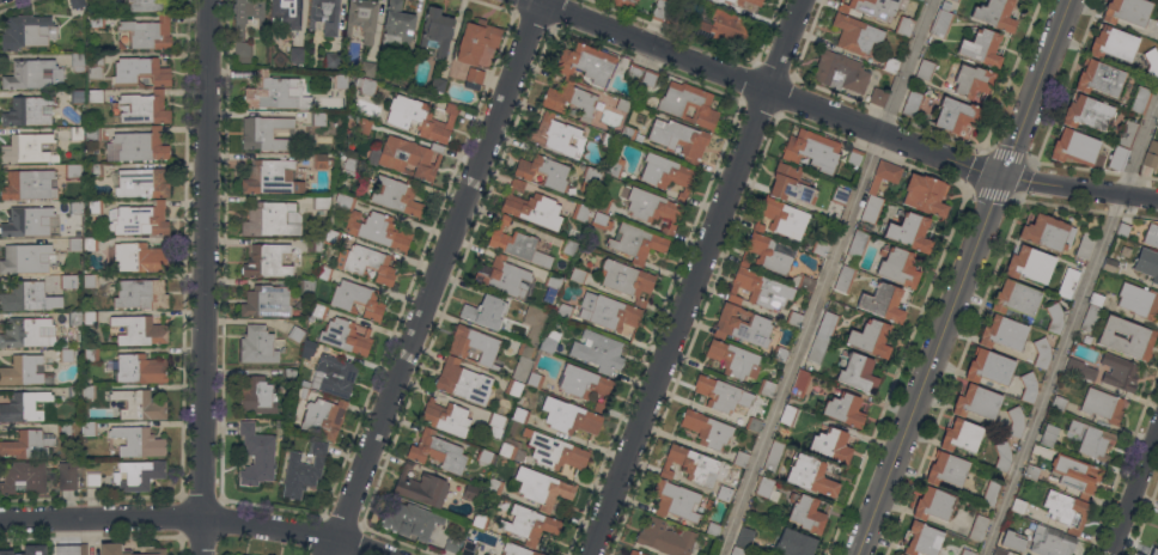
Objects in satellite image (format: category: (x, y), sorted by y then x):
building: (922, 0)
building: (956, 0)
building: (733, 1)
building: (755, 1)
building: (624, 2)
building: (77, 4)
building: (142, 5)
building: (945, 6)
building: (872, 7)
building: (659, 11)
building: (1127, 11)
building: (287, 12)
building: (995, 13)
building: (325, 16)
building: (361, 18)
building: (1157, 19)
building: (96, 22)
building: (672, 22)
building: (941, 23)
building: (904, 25)
building: (397, 26)
building: (720, 26)
building: (26, 31)
building: (148, 32)
building: (435, 32)
building: (857, 33)
building: (239, 35)
building: (476, 41)
building: (1114, 43)
building: (121, 45)
building: (982, 47)
building: (297, 54)
building: (333, 60)
building: (78, 62)
building: (1152, 62)
building: (586, 63)
building: (890, 63)
building: (95, 65)
building: (404, 67)
building: (367, 68)
building: (925, 69)
building: (140, 72)
building: (636, 72)
building: (840, 72)
building: (32, 74)
building: (474, 78)
building: (650, 78)
building: (1099, 78)
building: (973, 80)
building: (341, 81)
building: (366, 85)
building: (437, 85)
road: (1034, 87)
building: (275, 92)
building: (77, 96)
building: (97, 96)
building: (877, 97)
building: (571, 99)
building: (1141, 99)
building: (689, 104)
building: (913, 104)
building: (623, 105)
building: (144, 108)
building: (29, 111)
building: (1087, 112)
building: (956, 115)
road: (842, 117)
building: (319, 118)
building: (421, 118)
building: (364, 126)
building: (75, 133)
building: (93, 133)
building: (267, 133)
building: (628, 133)
building: (1127, 133)
building: (555, 134)
building: (608, 140)
building: (679, 140)
building: (141, 145)
building: (1074, 147)
building: (28, 148)
building: (812, 150)
building: (1151, 154)
building: (410, 157)
building: (854, 157)
building: (1117, 157)
building: (322, 161)
building: (351, 165)
building: (615, 165)
building: (72, 170)
building: (96, 170)
building: (543, 172)
building: (665, 173)
building: (884, 175)
building: (272, 177)
building: (590, 177)
building: (141, 183)
building: (790, 183)
building: (29, 184)
building: (925, 194)
building: (397, 195)
building: (840, 195)
building: (345, 201)
building: (321, 202)
building: (602, 203)
building: (75, 207)
building: (95, 207)
building: (531, 207)
building: (653, 208)
building: (871, 209)
building: (580, 212)
building: (781, 218)
building: (139, 219)
building: (272, 219)
building: (602, 220)
building: (30, 221)
building: (377, 230)
building: (1122, 230)
building: (910, 232)
building: (1048, 232)
building: (1151, 234)
building: (333, 237)
building: (636, 243)
building: (74, 244)
building: (90, 244)
building: (315, 244)
building: (517, 244)
building: (858, 244)
building: (1085, 245)
building: (568, 248)
building: (821, 248)
building: (1126, 251)
building: (769, 254)
building: (140, 257)
building: (28, 258)
building: (269, 261)
building: (365, 263)
building: (1147, 263)
building: (1029, 264)
building: (1111, 264)
building: (898, 267)
building: (323, 273)
building: (578, 275)
road: (205, 276)
road: (435, 276)
building: (502, 276)
road: (694, 276)
road: (824, 276)
building: (845, 279)
building: (627, 280)
building: (66, 281)
building: (90, 281)
building: (803, 282)
building: (1068, 282)
building: (307, 286)
building: (551, 286)
building: (760, 289)
building: (140, 294)
building: (23, 297)
building: (1016, 298)
building: (356, 299)
building: (1097, 299)
building: (1139, 300)
building: (267, 301)
building: (883, 301)
building: (318, 310)
building: (565, 311)
building: (486, 312)
building: (608, 312)
building: (74, 317)
building: (1090, 317)
building: (90, 318)
building: (793, 318)
building: (1055, 318)
building: (535, 324)
building: (827, 324)
building: (742, 325)
road: (1069, 325)
building: (140, 330)
building: (28, 331)
building: (1004, 333)
building: (295, 334)
building: (346, 336)
building: (871, 337)
building: (1126, 337)
building: (549, 341)
building: (257, 344)
building: (473, 344)
building: (307, 348)
building: (817, 349)
building: (598, 352)
building: (1041, 353)
building: (780, 354)
building: (66, 355)
building: (91, 355)
building: (733, 359)
building: (523, 361)
road: (930, 365)
building: (989, 366)
building: (140, 368)
building: (1079, 370)
building: (25, 371)
building: (858, 372)
building: (1119, 372)
building: (288, 373)
building: (336, 374)
building: (535, 380)
building: (463, 382)
building: (584, 383)
building: (800, 383)
building: (513, 388)
building: (766, 388)
building: (1029, 388)
building: (74, 392)
building: (89, 392)
building: (301, 392)
building: (718, 392)
building: (256, 396)
building: (977, 402)
building: (1059, 403)
building: (138, 404)
building: (1102, 404)
building: (24, 407)
building: (599, 409)
building: (845, 409)
building: (788, 414)
building: (520, 415)
building: (569, 416)
building: (323, 417)
building: (446, 417)
building: (1016, 421)
building: (495, 423)
building: (752, 423)
building: (62, 428)
building: (90, 428)
building: (707, 428)
building: (1049, 434)
building: (961, 435)
building: (1092, 440)
building: (138, 441)
building: (28, 444)
building: (830, 444)
building: (512, 450)
building: (555, 451)
building: (438, 452)
building: (257, 455)
building: (1002, 456)
building: (484, 457)
building: (773, 457)
building: (740, 458)
building: (694, 464)
building: (946, 469)
building: (303, 470)
building: (666, 470)
building: (1031, 471)
building: (138, 474)
building: (810, 474)
building: (1077, 474)
building: (67, 475)
building: (24, 476)
building: (92, 481)
building: (421, 487)
building: (495, 487)
building: (540, 488)
building: (766, 488)
building: (470, 492)
building: (721, 492)
road: (1134, 492)
building: (991, 493)
building: (675, 500)
building: (708, 504)
building: (934, 504)
building: (1018, 506)
building: (1066, 510)
building: (805, 512)
road: (191, 518)
building: (412, 520)
building: (481, 522)
building: (530, 524)
building: (979, 527)
building: (713, 530)
building: (665, 537)
building: (744, 537)
building: (922, 539)
building: (1050, 542)
building: (452, 543)
building: (794, 543)
building: (1011, 543)
building: (1157, 543)
building: (469, 548)
building: (71, 549)
building: (152, 549)
building: (28, 550)
building: (516, 550)
building: (737, 551)
building: (967, 551)
building: (1000, 551)
building: (635, 553)
building: (1152, 553)
building: (484, 554)
building: (898, 554)
building: (900, 554)

